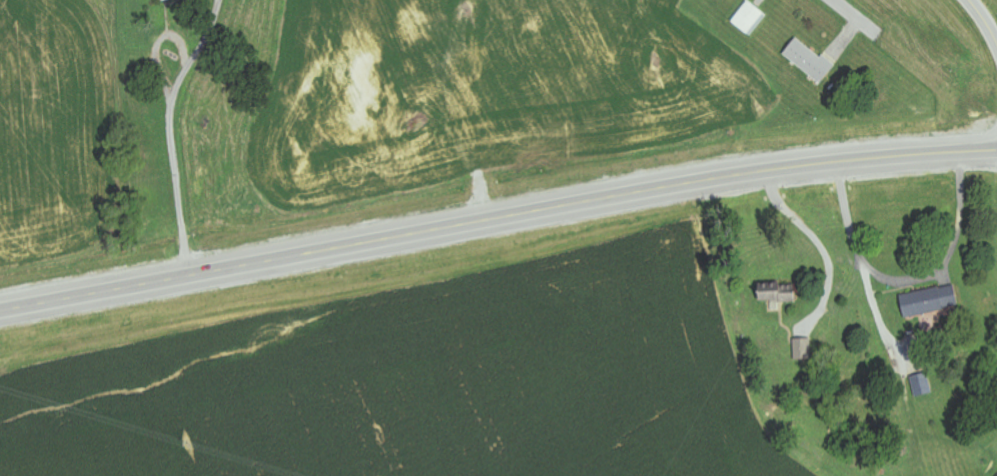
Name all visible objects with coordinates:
building: (162, 0)
road: (986, 18)
building: (751, 19)
building: (810, 61)
road: (497, 209)
building: (779, 296)
building: (929, 301)
building: (804, 349)
building: (923, 384)

